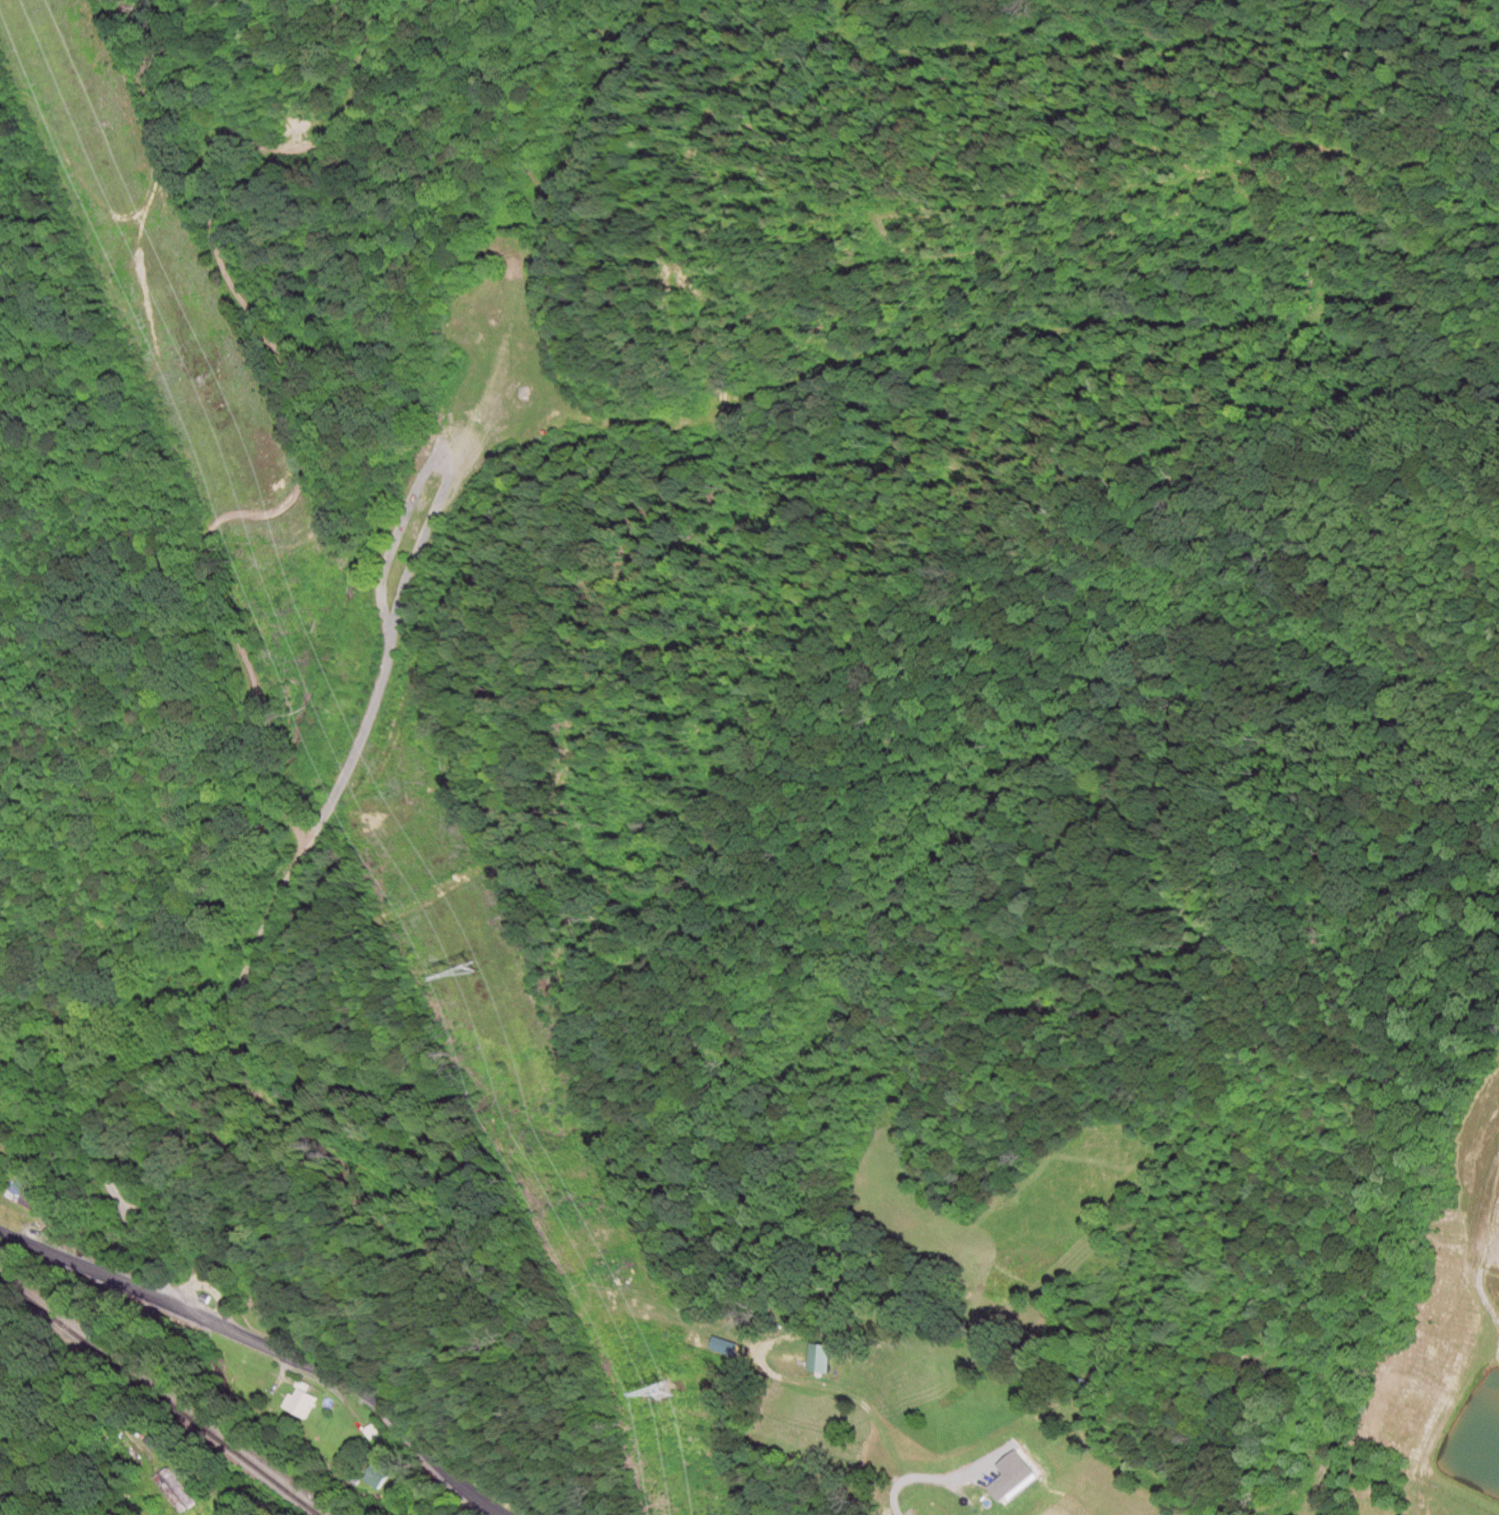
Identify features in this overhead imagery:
power tower: (474, 976)
road: (92, 1264)
building: (819, 1360)
road: (357, 1392)
power tower: (663, 1396)
railway: (158, 1397)
building: (300, 1404)
building: (1037, 1435)
road: (914, 1474)
building: (377, 1479)

